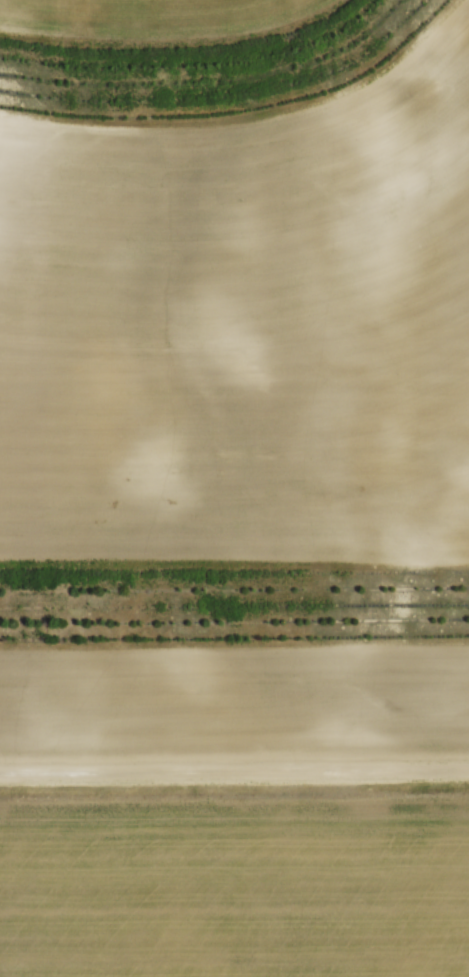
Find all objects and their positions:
road: (234, 773)

